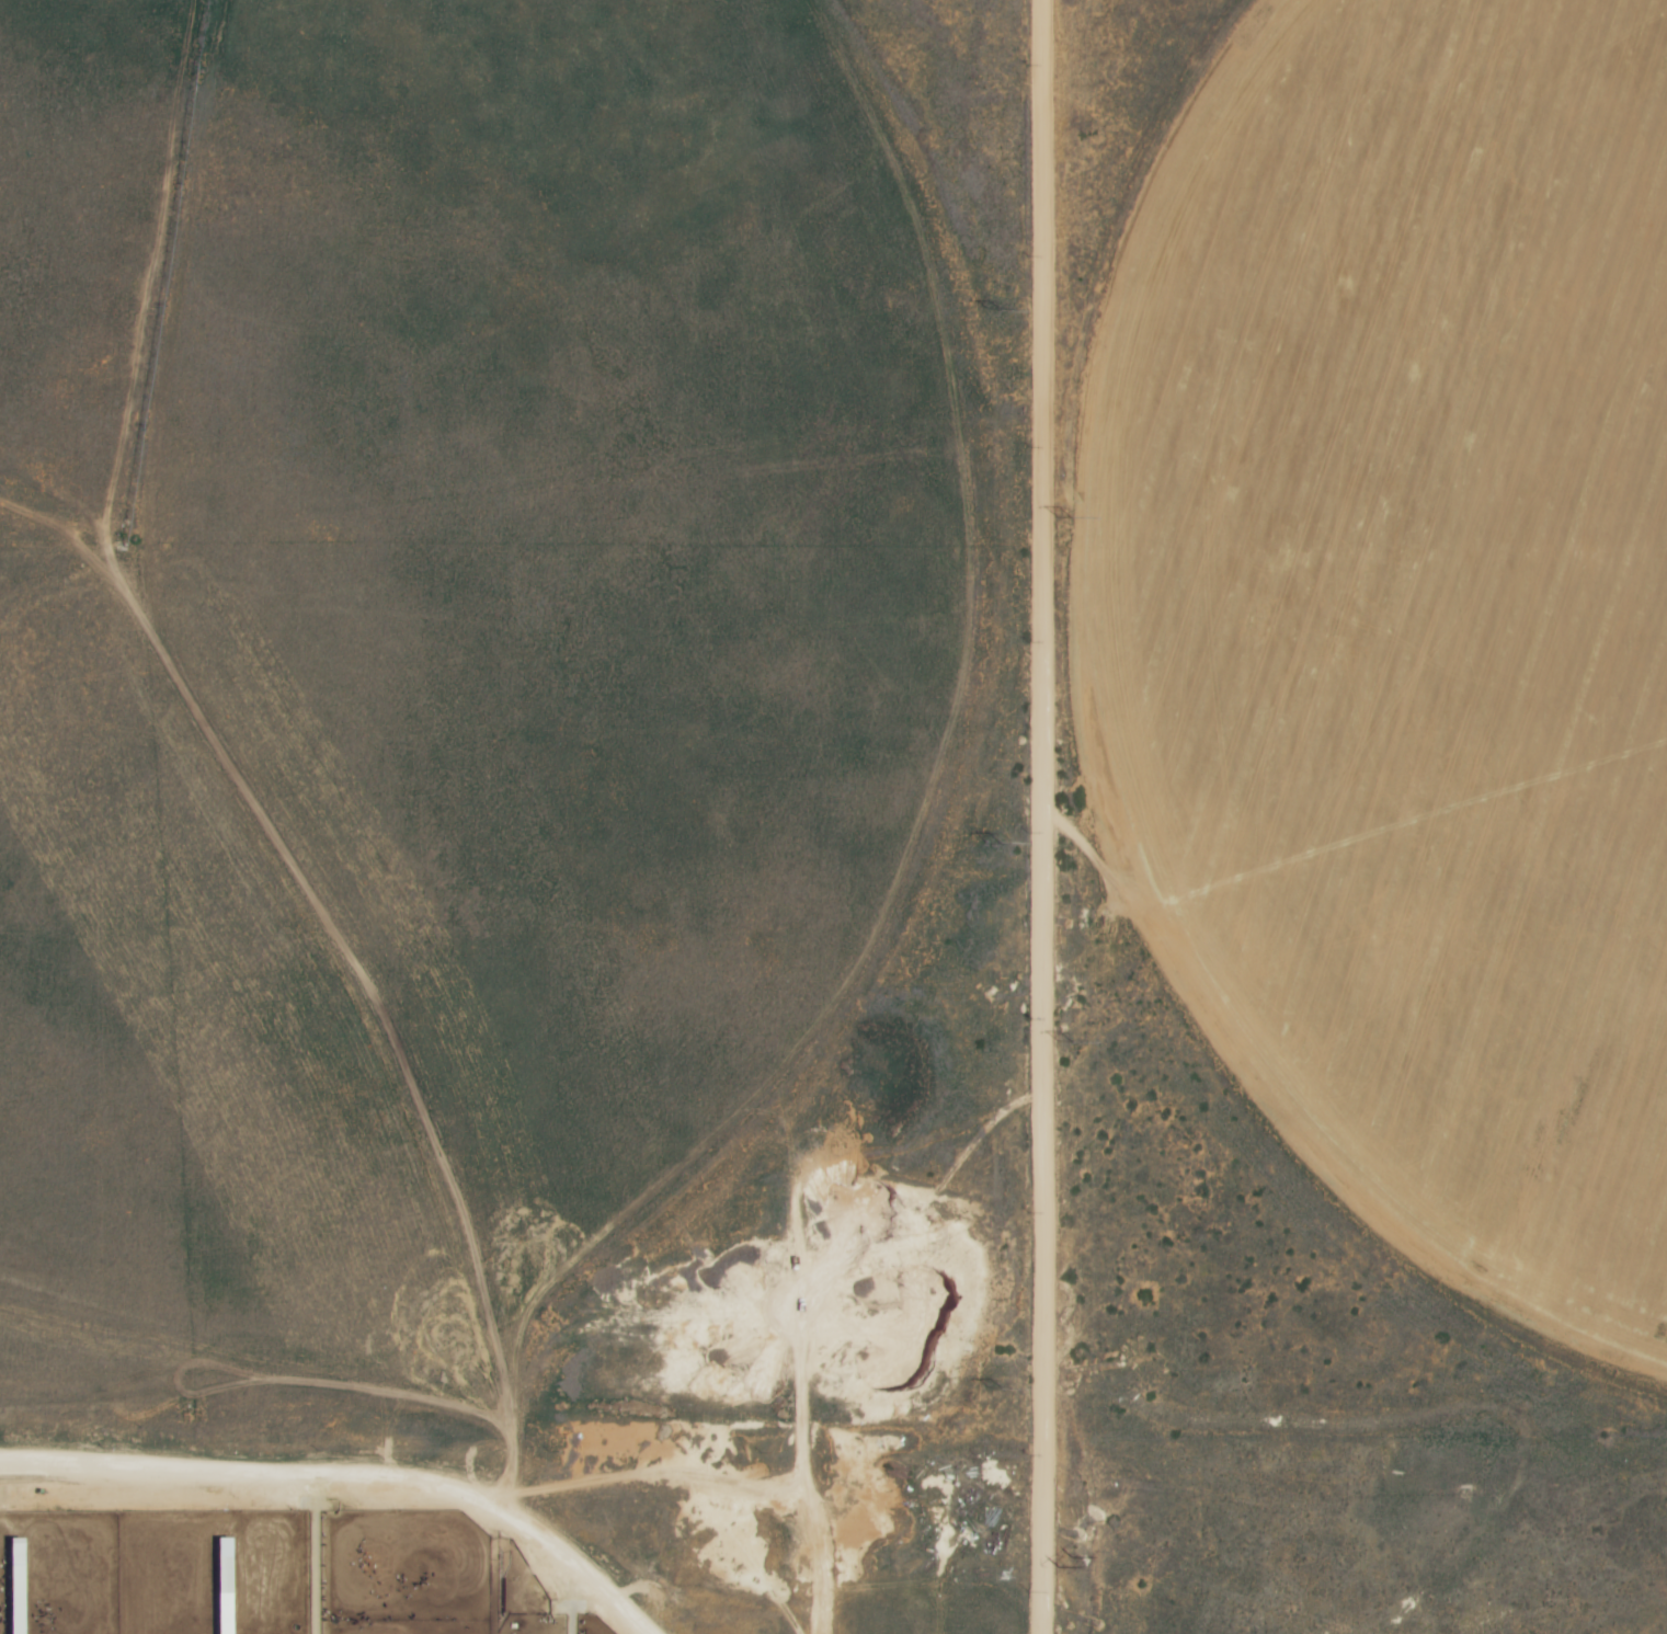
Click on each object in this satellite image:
power tower: (995, 307)
power tower: (1064, 515)
road: (1047, 816)
power tower: (994, 842)
power tower: (1067, 1039)
power tower: (994, 1386)
road: (350, 1475)
power tower: (1071, 1563)

